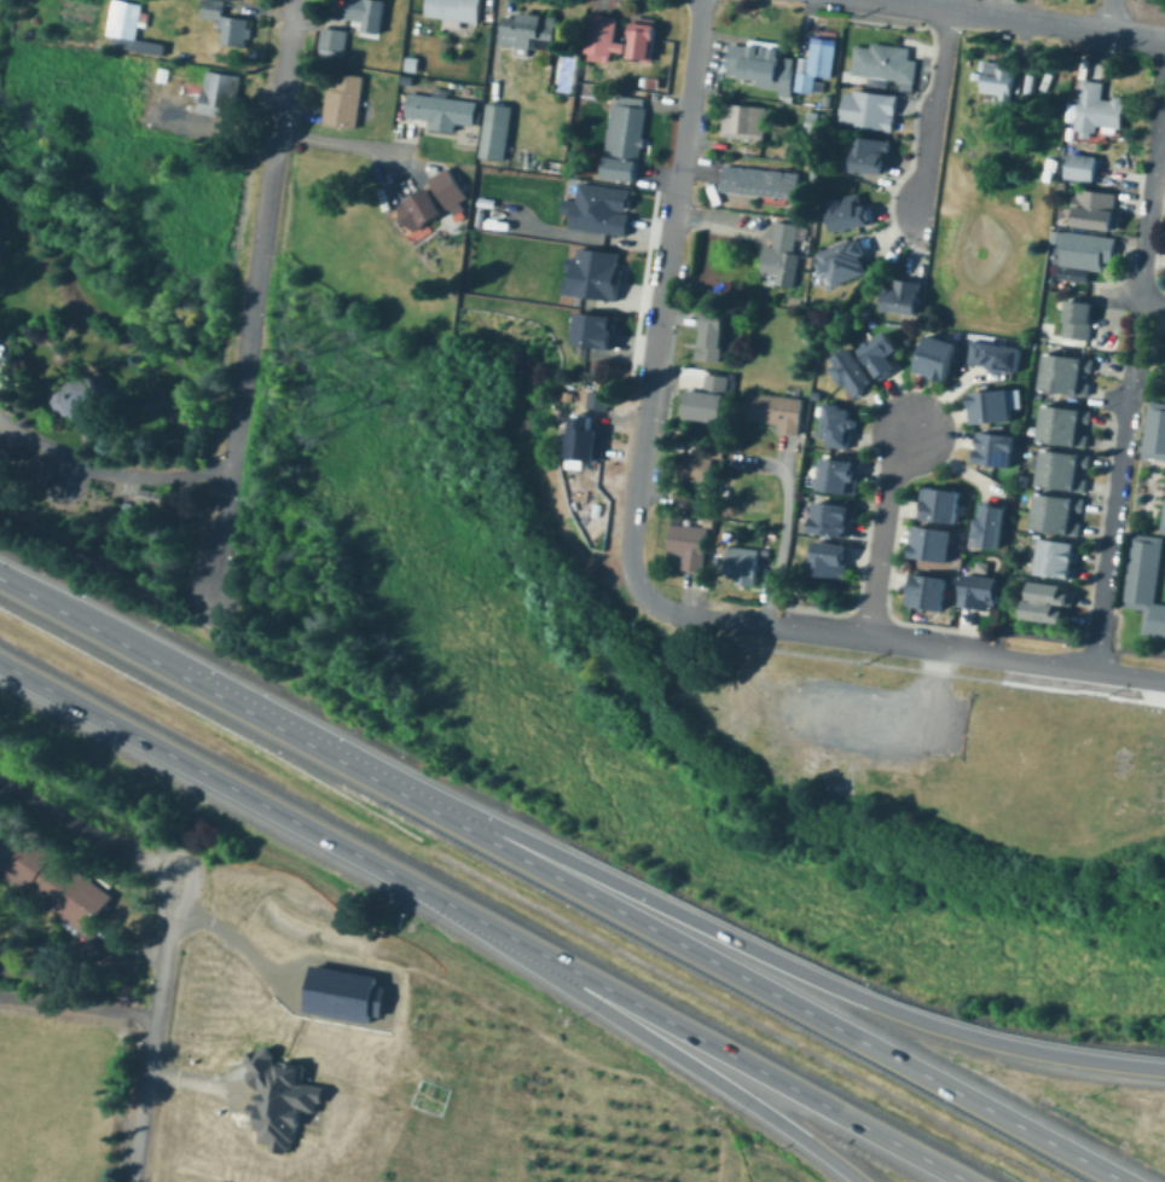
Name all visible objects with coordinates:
building: (367, 11)
building: (457, 11)
road: (1112, 16)
road: (1024, 19)
building: (227, 23)
building: (607, 27)
building: (132, 28)
building: (532, 34)
building: (332, 40)
building: (415, 62)
building: (817, 63)
building: (882, 63)
building: (765, 64)
building: (164, 74)
building: (410, 79)
building: (656, 82)
building: (468, 89)
building: (1003, 89)
building: (219, 95)
road: (692, 95)
building: (827, 100)
building: (344, 102)
building: (869, 110)
building: (1099, 110)
building: (444, 111)
road: (937, 111)
building: (746, 122)
building: (813, 122)
building: (500, 132)
building: (1068, 134)
building: (628, 135)
building: (1014, 139)
road: (347, 141)
building: (1102, 141)
building: (871, 153)
building: (531, 160)
building: (555, 163)
building: (1117, 163)
building: (1082, 167)
building: (815, 175)
building: (763, 181)
road: (1152, 184)
building: (1060, 187)
building: (450, 190)
building: (599, 205)
building: (422, 209)
building: (1096, 209)
building: (848, 212)
building: (1059, 213)
building: (482, 218)
building: (1088, 250)
building: (783, 256)
building: (847, 262)
building: (603, 272)
road: (256, 296)
building: (904, 296)
road: (1130, 299)
road: (666, 302)
building: (863, 314)
building: (1079, 319)
building: (602, 326)
building: (713, 334)
road: (1137, 334)
building: (905, 343)
building: (881, 352)
building: (995, 353)
building: (937, 355)
building: (957, 363)
building: (852, 371)
building: (1063, 372)
building: (732, 377)
building: (570, 396)
building: (813, 396)
building: (1038, 396)
building: (79, 399)
building: (601, 399)
road: (1115, 399)
building: (706, 400)
building: (992, 405)
building: (775, 411)
building: (840, 423)
building: (1061, 425)
building: (1155, 433)
building: (586, 442)
building: (995, 447)
building: (696, 468)
building: (1060, 470)
road: (110, 473)
building: (840, 475)
road: (638, 500)
building: (939, 502)
building: (149, 503)
building: (1056, 512)
road: (1114, 515)
building: (830, 518)
building: (991, 522)
building: (707, 523)
building: (1164, 527)
road: (880, 532)
road: (783, 534)
building: (933, 541)
building: (689, 545)
building: (764, 554)
building: (1056, 558)
building: (831, 561)
building: (746, 566)
building: (1144, 581)
building: (927, 591)
building: (979, 592)
building: (1049, 603)
road: (705, 616)
road: (970, 651)
street lamp: (221, 655)
road: (195, 680)
road: (1083, 689)
road: (894, 717)
parking lot: (875, 720)
street lamp: (357, 725)
park: (935, 737)
road: (189, 760)
street lamp: (504, 801)
road: (93, 830)
street lamp: (660, 882)
building: (62, 885)
street lamp: (408, 925)
road: (769, 955)
road: (83, 962)
road: (759, 983)
building: (352, 991)
road: (79, 1007)
road: (622, 1016)
street lamp: (566, 1020)
road: (674, 1021)
road: (155, 1035)
building: (286, 1095)
street lamp: (713, 1116)

